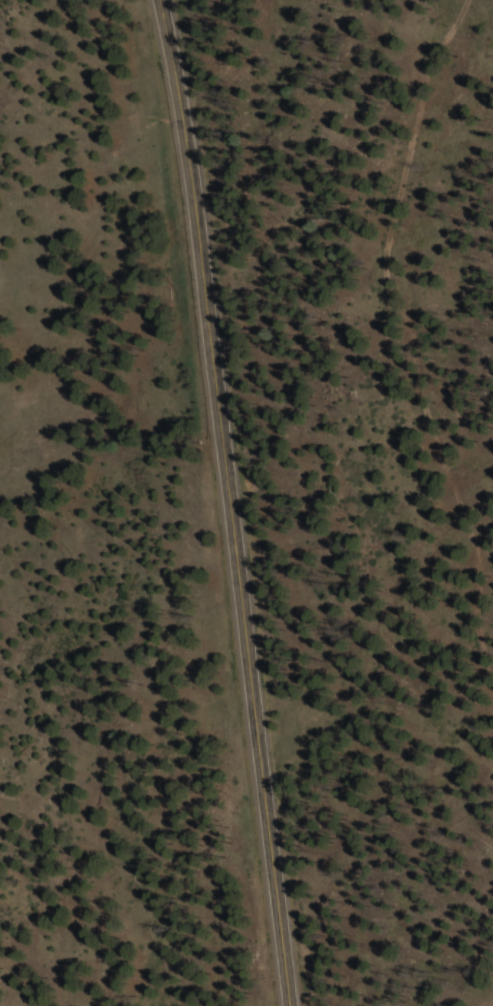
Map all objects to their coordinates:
road: (228, 502)

